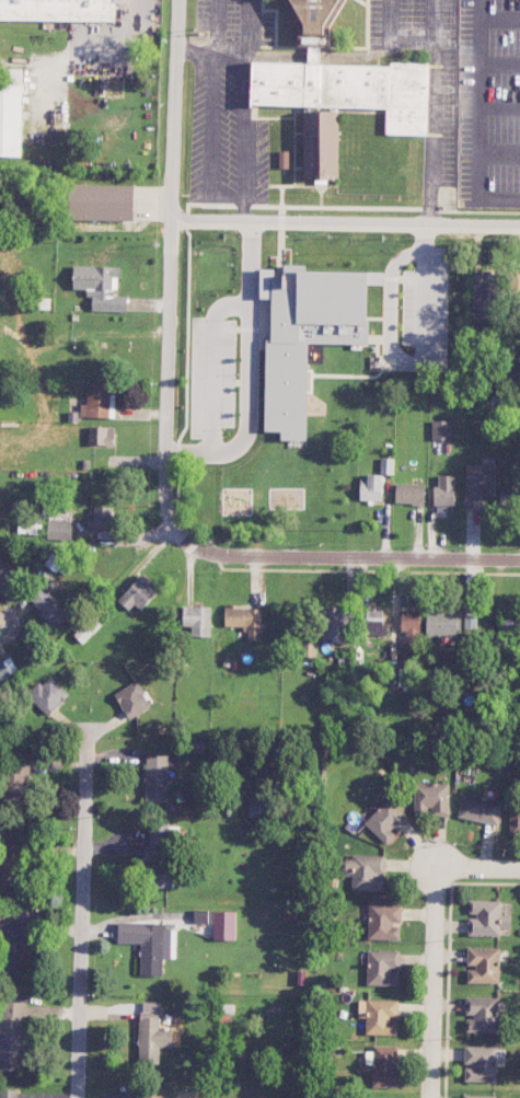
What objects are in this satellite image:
building: (57, 10)
building: (313, 20)
road: (243, 25)
road: (209, 51)
building: (345, 89)
building: (10, 112)
road: (435, 112)
building: (321, 142)
building: (284, 160)
road: (212, 185)
building: (101, 201)
road: (241, 210)
road: (345, 224)
road: (170, 265)
building: (100, 287)
building: (485, 296)
building: (305, 335)
building: (99, 401)
building: (441, 429)
building: (101, 436)
building: (386, 466)
building: (478, 483)
building: (370, 488)
building: (443, 490)
building: (409, 494)
building: (509, 496)
building: (101, 518)
building: (28, 527)
building: (59, 530)
road: (342, 556)
building: (56, 564)
building: (4, 579)
building: (138, 593)
building: (47, 605)
building: (197, 620)
road: (10, 621)
building: (245, 621)
building: (470, 621)
building: (374, 622)
building: (441, 623)
building: (333, 624)
building: (411, 624)
building: (3, 672)
building: (48, 695)
building: (131, 700)
building: (155, 777)
building: (15, 779)
building: (431, 799)
building: (258, 805)
building: (479, 809)
building: (386, 821)
building: (515, 821)
building: (160, 856)
building: (11, 864)
road: (478, 866)
building: (365, 871)
road: (83, 909)
building: (200, 916)
building: (486, 918)
building: (384, 921)
building: (224, 925)
building: (148, 944)
building: (11, 946)
building: (483, 964)
building: (382, 967)
road: (435, 982)
building: (482, 1014)
building: (379, 1016)
building: (152, 1033)
building: (11, 1035)
building: (479, 1063)
building: (384, 1066)
building: (150, 1093)
building: (8, 1094)
building: (478, 1096)

